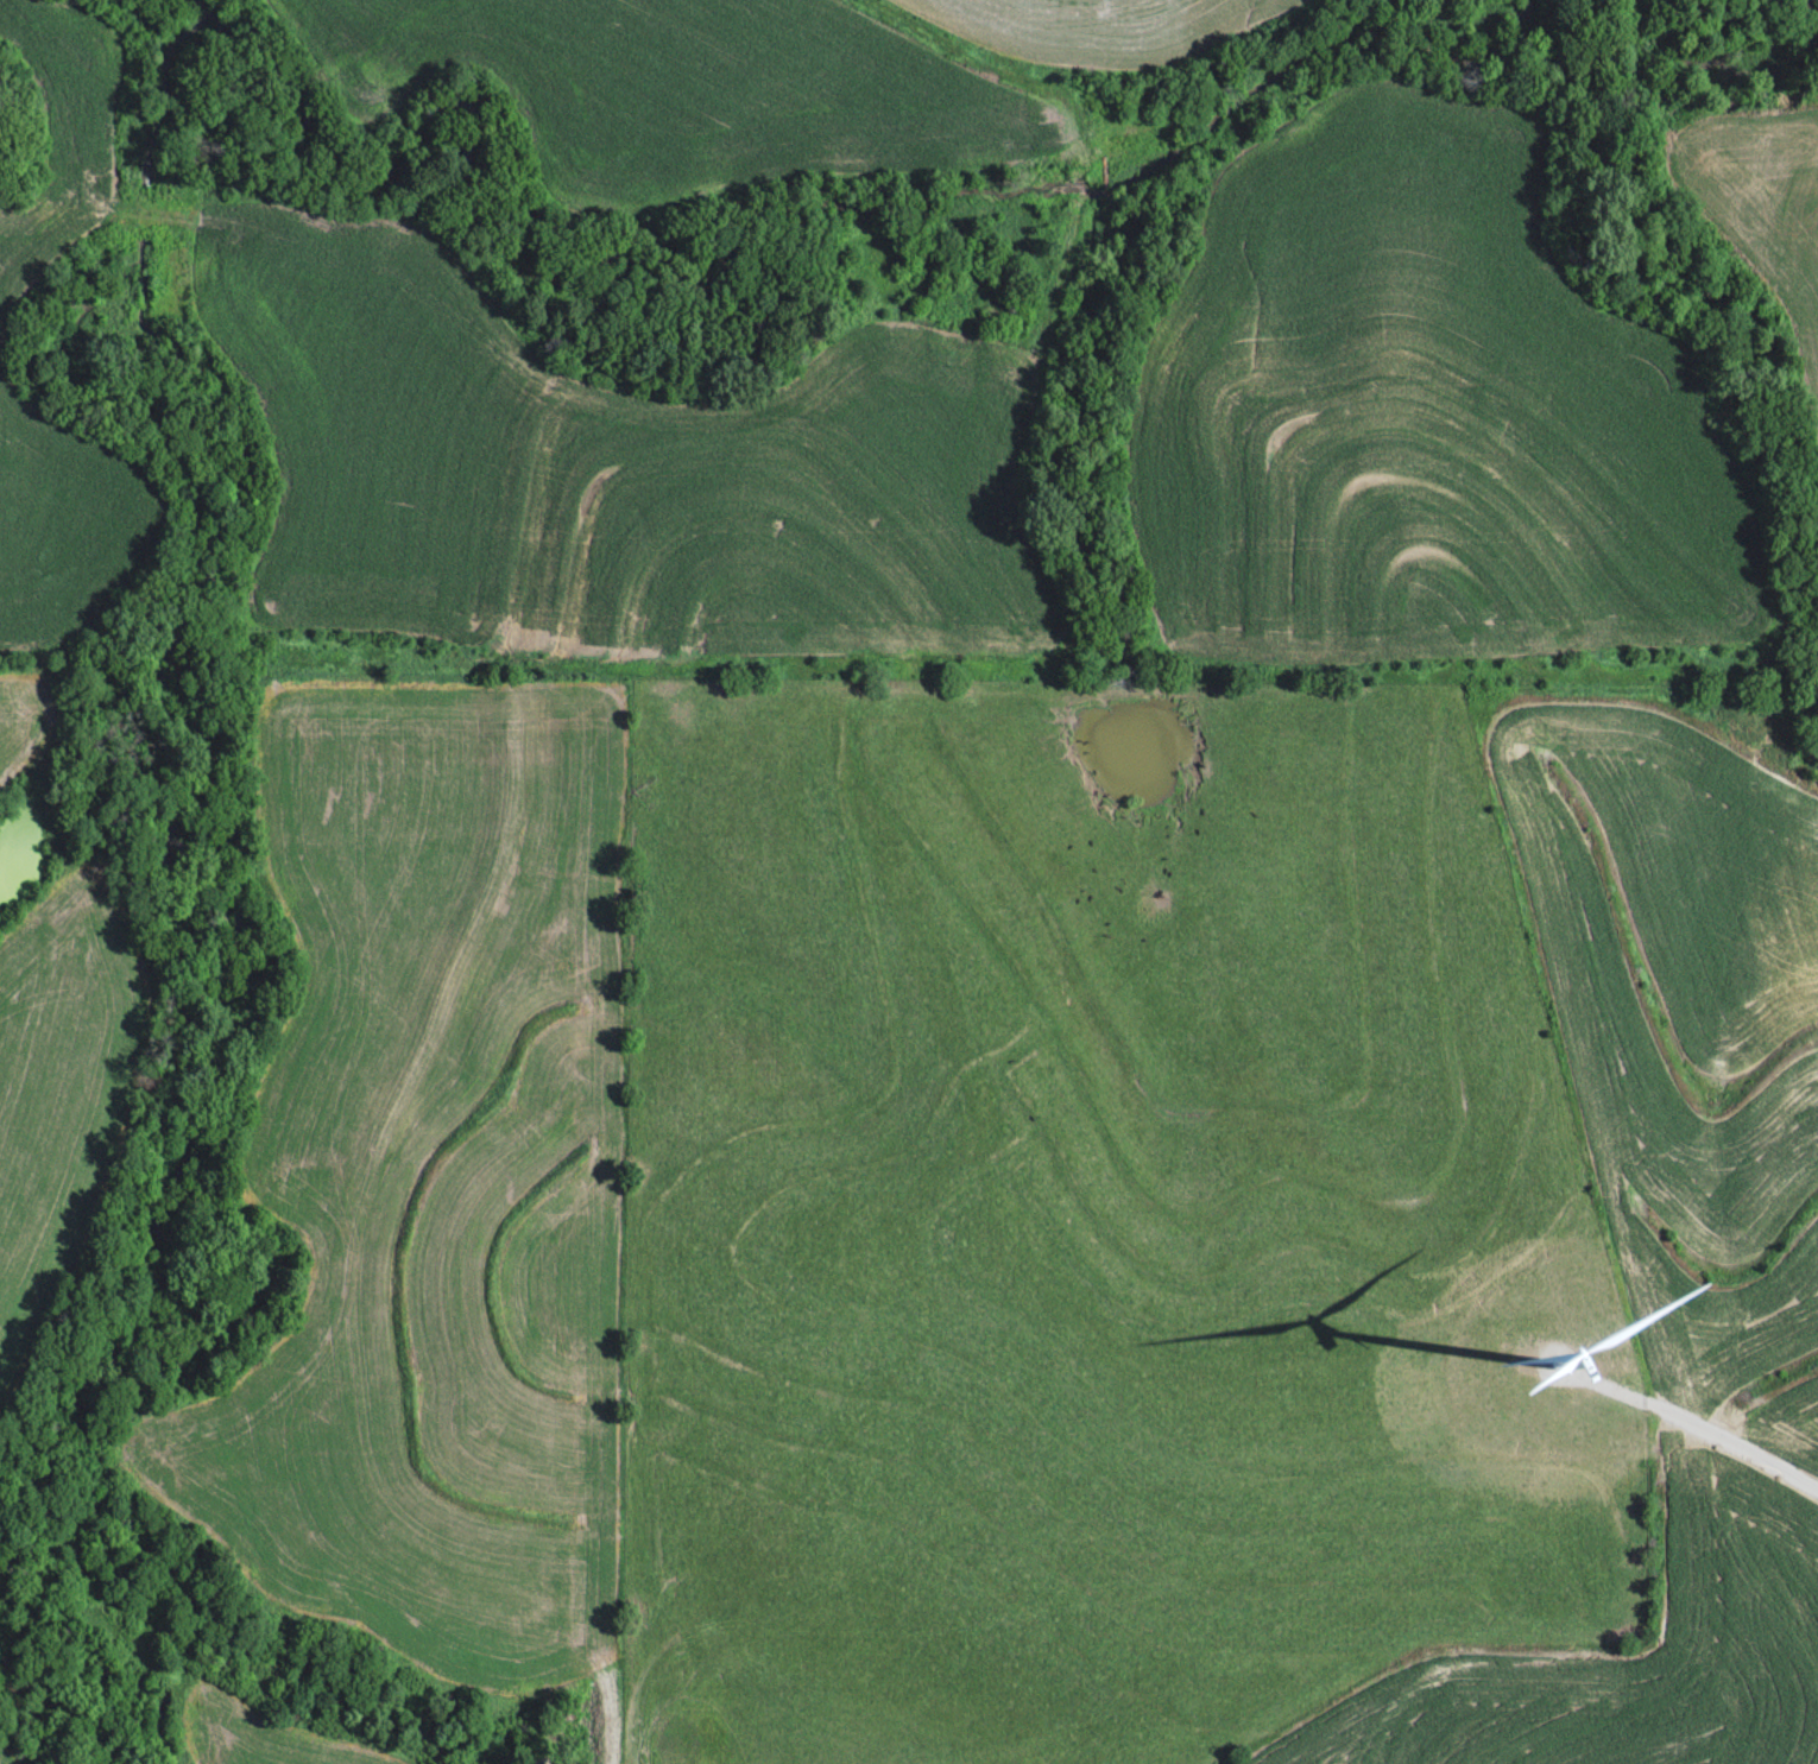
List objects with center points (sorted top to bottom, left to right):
wind turbine: (1554, 1371)

